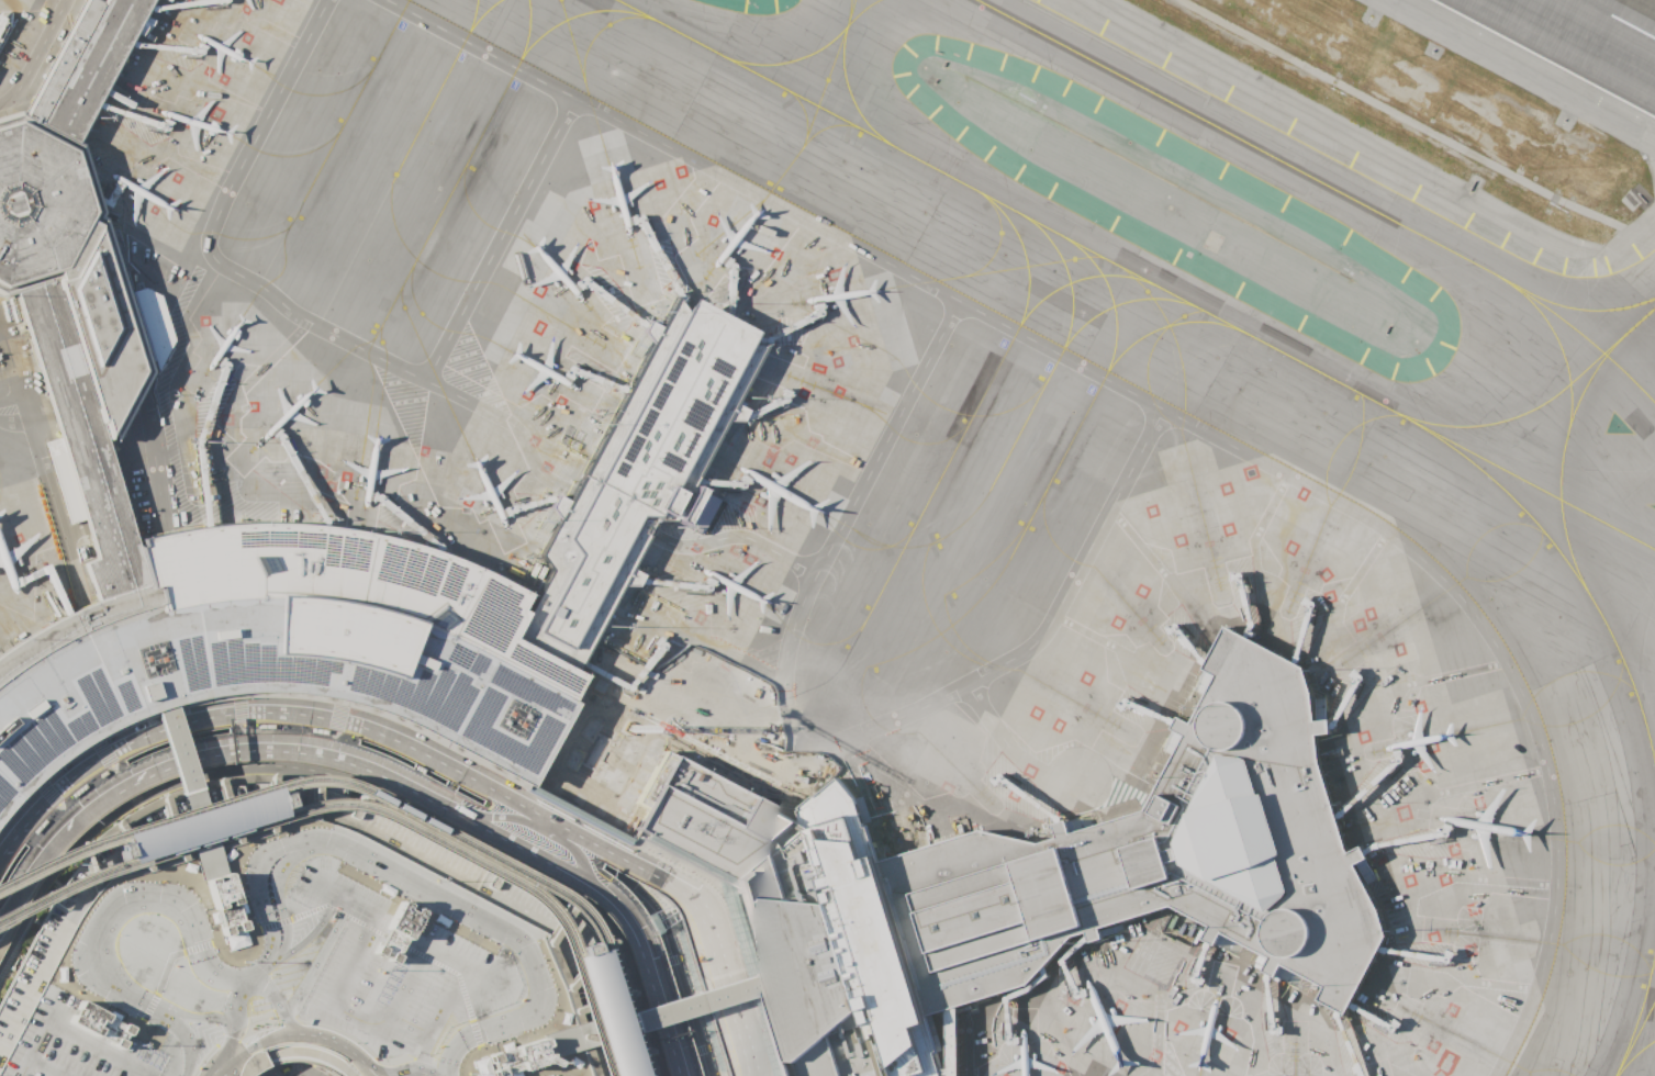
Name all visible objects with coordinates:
airport taxiway: (849, 8)
airport taxiway: (473, 14)
airport runway: (1618, 19)
airport apron: (11, 21)
airport taxiway: (527, 27)
airport taxiway: (814, 52)
road: (32, 56)
airport taxiway: (843, 75)
airport apron: (194, 108)
airport taxiway: (477, 141)
airport taxiway: (331, 145)
airport taxiway: (403, 157)
airport taxiway: (1324, 183)
road: (497, 239)
airport taxiway: (1067, 271)
road: (275, 298)
airport taxiway: (1573, 306)
airport taxiway: (1207, 310)
airport taxiway: (1588, 379)
airport taxiway: (1542, 402)
airport taxiway: (1031, 404)
road: (1158, 407)
airport terminal: (672, 410)
building: (672, 410)
airport taxiway: (1568, 418)
airport apron: (546, 427)
airport taxiway: (1527, 480)
road: (56, 497)
road: (611, 509)
road: (840, 519)
road: (651, 529)
road: (736, 534)
airport: (827, 538)
airport apron: (29, 562)
road: (1051, 623)
road: (238, 695)
road: (180, 704)
road: (339, 704)
road: (150, 713)
road: (192, 716)
road: (244, 727)
road: (99, 737)
road: (1011, 748)
building: (600, 754)
road: (256, 763)
road: (771, 763)
airport apron: (1036, 764)
road: (382, 772)
building: (737, 775)
road: (35, 781)
road: (886, 784)
railway: (276, 794)
railway: (381, 799)
railway: (366, 807)
road: (504, 812)
road: (873, 815)
road: (203, 822)
building: (203, 825)
road: (563, 839)
road: (912, 839)
building: (888, 841)
road: (551, 856)
road: (642, 866)
road: (686, 868)
road: (389, 871)
airport terminal: (1031, 879)
building: (1031, 879)
road: (577, 894)
road: (342, 896)
road: (724, 914)
road: (189, 916)
road: (625, 917)
road: (661, 922)
road: (266, 924)
road: (232, 937)
road: (303, 938)
railway: (588, 952)
road: (446, 955)
road: (315, 957)
road: (350, 959)
building: (747, 968)
building: (305, 969)
parking lot: (305, 969)
road: (536, 975)
road: (980, 975)
road: (244, 982)
road: (637, 982)
road: (115, 987)
road: (402, 988)
road: (275, 999)
road: (960, 1006)
road: (166, 1007)
airport taxiway: (1639, 1012)
road: (974, 1013)
road: (440, 1015)
building: (605, 1015)
road: (353, 1018)
road: (232, 1021)
road: (622, 1022)
road: (484, 1029)
road: (291, 1031)
airport taxiway: (1635, 1038)
road: (962, 1041)
airport terminal: (950, 1043)
building: (950, 1043)
road: (33, 1047)
road: (98, 1047)
road: (765, 1047)
road: (314, 1052)
road: (481, 1054)
airport taxiway: (1635, 1057)
road: (186, 1063)
road: (46, 1066)
road: (224, 1067)
road: (399, 1072)
road: (436, 1075)

